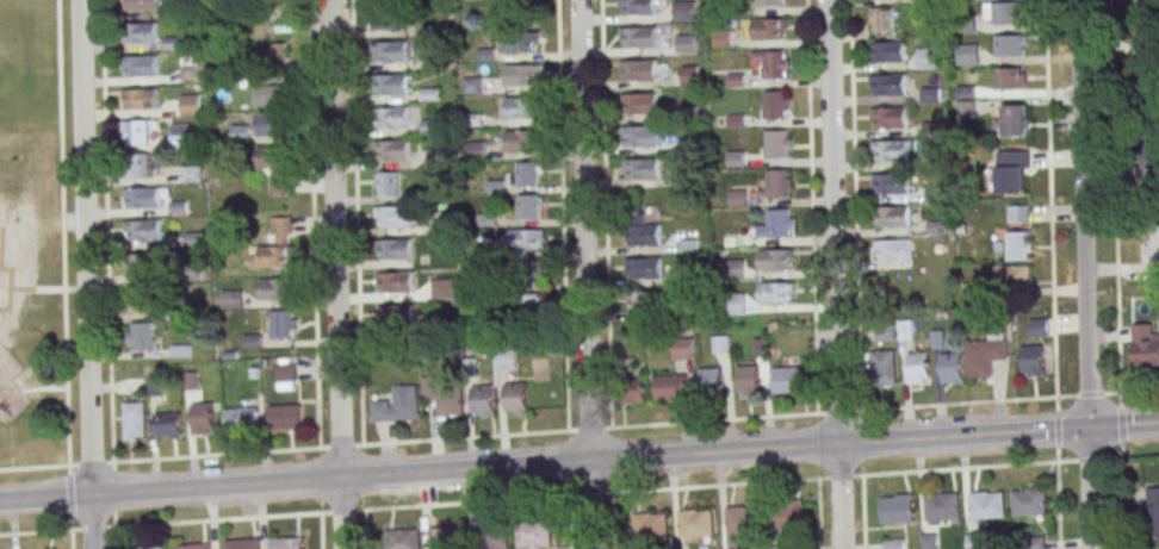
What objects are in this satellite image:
building: (771, 2)
building: (141, 5)
building: (273, 6)
building: (638, 6)
building: (1148, 8)
building: (682, 10)
building: (1008, 12)
building: (389, 19)
building: (882, 19)
building: (966, 23)
building: (768, 29)
building: (140, 33)
building: (637, 36)
building: (721, 38)
building: (521, 40)
building: (684, 43)
building: (1010, 45)
building: (887, 50)
building: (390, 52)
building: (966, 54)
building: (277, 56)
building: (928, 57)
building: (773, 64)
building: (140, 67)
building: (638, 69)
building: (521, 74)
building: (689, 75)
building: (1146, 75)
building: (1009, 79)
building: (391, 85)
building: (888, 85)
building: (268, 98)
building: (142, 100)
building: (640, 102)
building: (190, 104)
building: (774, 104)
building: (521, 107)
building: (890, 117)
building: (391, 118)
building: (1014, 119)
building: (268, 124)
building: (140, 132)
building: (642, 135)
building: (180, 136)
building: (522, 141)
building: (776, 143)
building: (891, 149)
building: (475, 150)
building: (392, 151)
building: (271, 156)
building: (438, 157)
building: (929, 157)
building: (1154, 163)
building: (136, 166)
building: (642, 168)
building: (1012, 170)
building: (527, 174)
building: (892, 182)
building: (388, 183)
building: (776, 183)
building: (278, 185)
road: (1114, 195)
road: (1049, 198)
building: (143, 199)
road: (855, 205)
building: (528, 206)
road: (812, 207)
building: (1018, 213)
road: (605, 214)
road: (563, 216)
building: (892, 216)
building: (393, 218)
road: (357, 223)
building: (777, 223)
road: (312, 224)
road: (107, 231)
building: (144, 231)
road: (62, 233)
building: (643, 235)
building: (525, 239)
building: (1153, 241)
building: (688, 244)
road: (1, 245)
building: (1017, 245)
building: (278, 247)
building: (893, 248)
building: (395, 250)
building: (775, 260)
building: (145, 264)
building: (644, 267)
building: (735, 269)
building: (533, 273)
road: (87, 274)
road: (336, 274)
road: (585, 274)
road: (835, 274)
building: (1012, 274)
road: (1083, 274)
building: (396, 283)
road: (11, 286)
road: (37, 287)
building: (275, 288)
building: (442, 288)
building: (776, 293)
building: (140, 299)
building: (233, 299)
building: (643, 300)
building: (735, 304)
building: (534, 306)
building: (397, 317)
building: (281, 324)
building: (1039, 327)
building: (894, 330)
building: (141, 336)
building: (721, 343)
building: (1145, 345)
building: (683, 348)
building: (985, 354)
building: (506, 360)
building: (1031, 361)
building: (882, 368)
building: (918, 368)
building: (952, 368)
building: (711, 379)
building: (749, 380)
building: (789, 380)
road: (43, 387)
building: (671, 387)
street lamp: (1116, 389)
road: (1130, 391)
building: (633, 392)
road: (1090, 393)
building: (444, 394)
building: (516, 398)
road: (1120, 399)
building: (483, 401)
road: (1056, 404)
building: (398, 405)
building: (285, 414)
building: (242, 416)
building: (203, 418)
building: (135, 419)
building: (169, 425)
road: (1121, 426)
traffic signals: (1087, 428)
road: (1058, 430)
road: (539, 433)
road: (1058, 454)
street lamp: (1129, 455)
road: (1112, 457)
road: (1089, 458)
road: (579, 462)
road: (817, 479)
road: (114, 495)
road: (591, 495)
road: (1122, 497)
road: (492, 501)
building: (1029, 501)
building: (987, 505)
road: (1058, 505)
road: (70, 507)
building: (942, 507)
building: (897, 509)
road: (345, 511)
road: (863, 512)
building: (1152, 512)
road: (819, 513)
building: (788, 517)
building: (696, 523)
road: (161, 525)
building: (739, 525)
building: (650, 526)
building: (533, 534)
building: (491, 536)
building: (446, 537)
road: (114, 538)
building: (403, 538)
building: (286, 542)
building: (928, 542)
building: (977, 542)
building: (243, 543)
building: (894, 543)
building: (194, 545)
building: (154, 547)
building: (782, 547)

